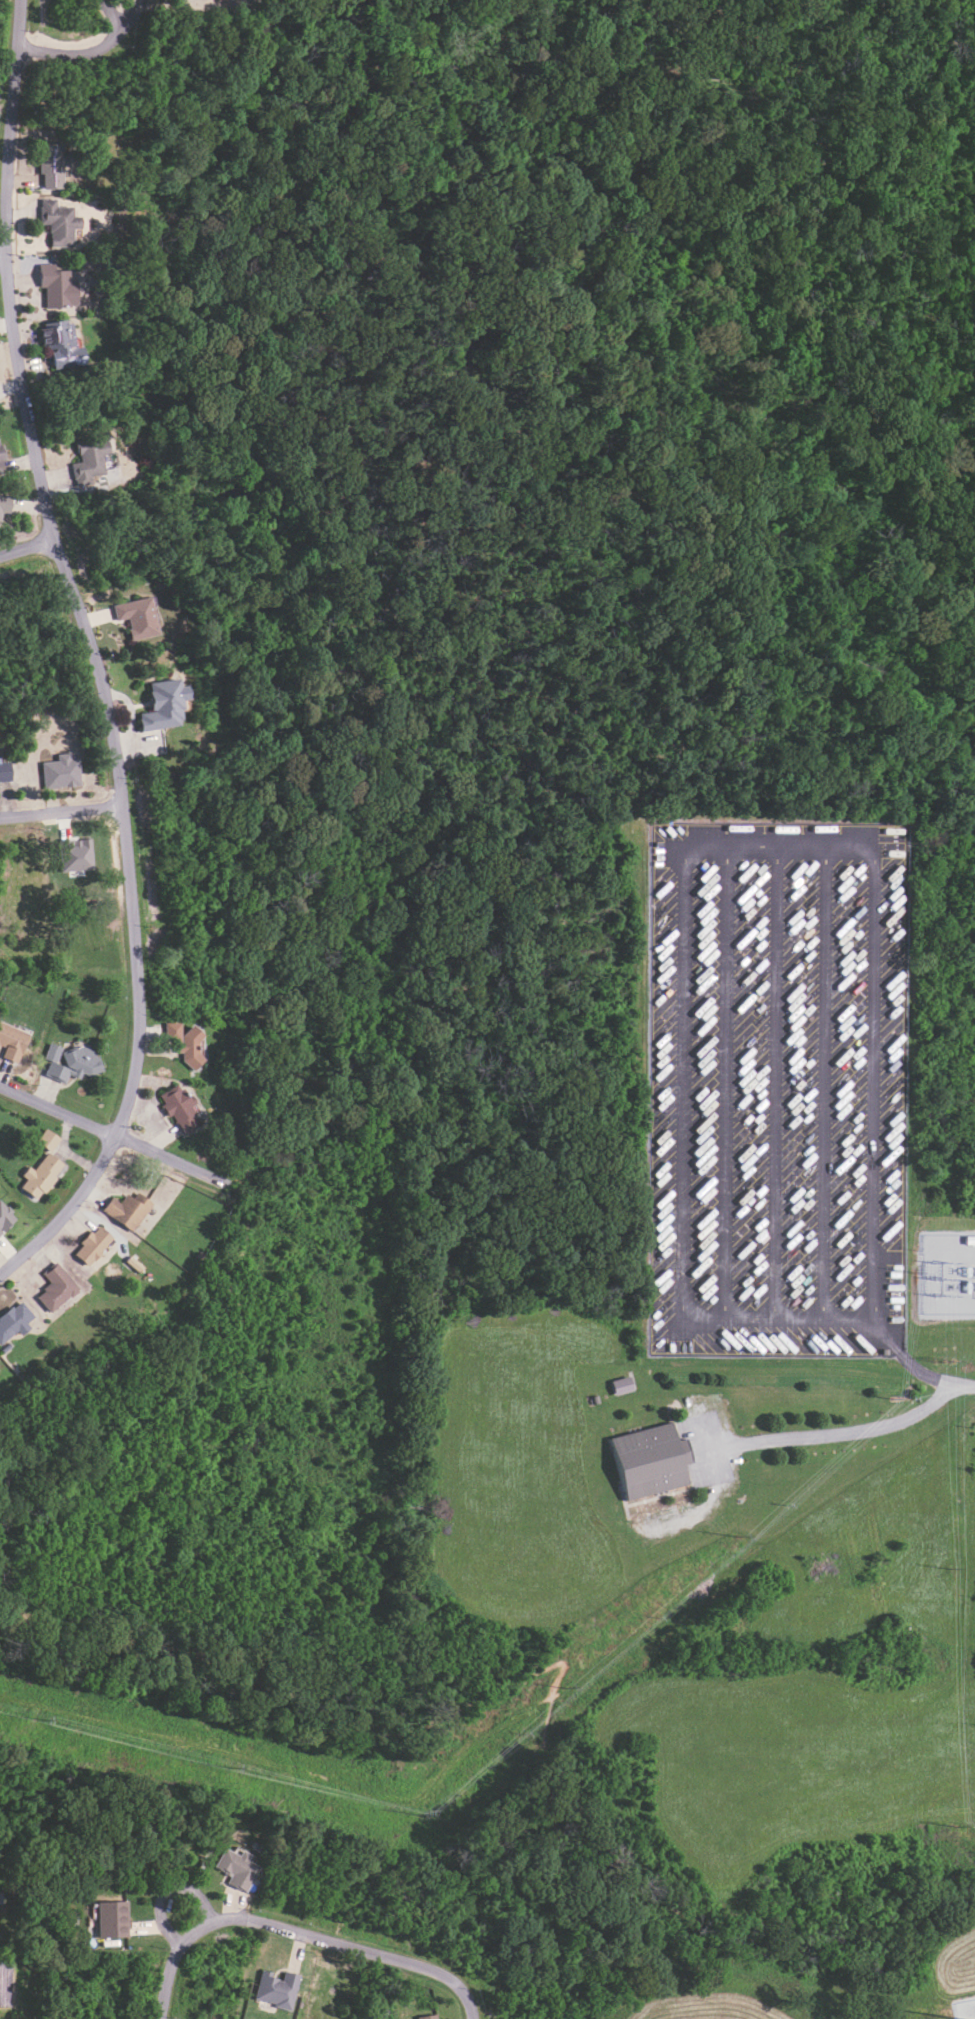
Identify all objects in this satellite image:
road: (90, 52)
building: (51, 169)
building: (57, 222)
road: (2, 255)
building: (56, 285)
building: (61, 346)
building: (0, 458)
building: (88, 459)
building: (4, 502)
road: (28, 549)
building: (136, 617)
road: (96, 656)
building: (162, 705)
building: (61, 771)
building: (4, 772)
road: (61, 811)
road: (295, 818)
building: (75, 854)
building: (11, 1042)
building: (184, 1042)
building: (68, 1061)
parking lot: (779, 1088)
building: (180, 1109)
road: (114, 1136)
building: (47, 1140)
building: (40, 1176)
building: (127, 1209)
building: (5, 1217)
building: (92, 1245)
power substation: (949, 1274)
building: (55, 1288)
building: (14, 1321)
road: (933, 1380)
building: (623, 1387)
building: (598, 1401)
road: (847, 1434)
building: (651, 1460)
road: (542, 1669)
building: (237, 1868)
road: (169, 1890)
building: (113, 1918)
road: (357, 1950)
road: (175, 1961)
building: (276, 1989)
building: (428, 2016)

